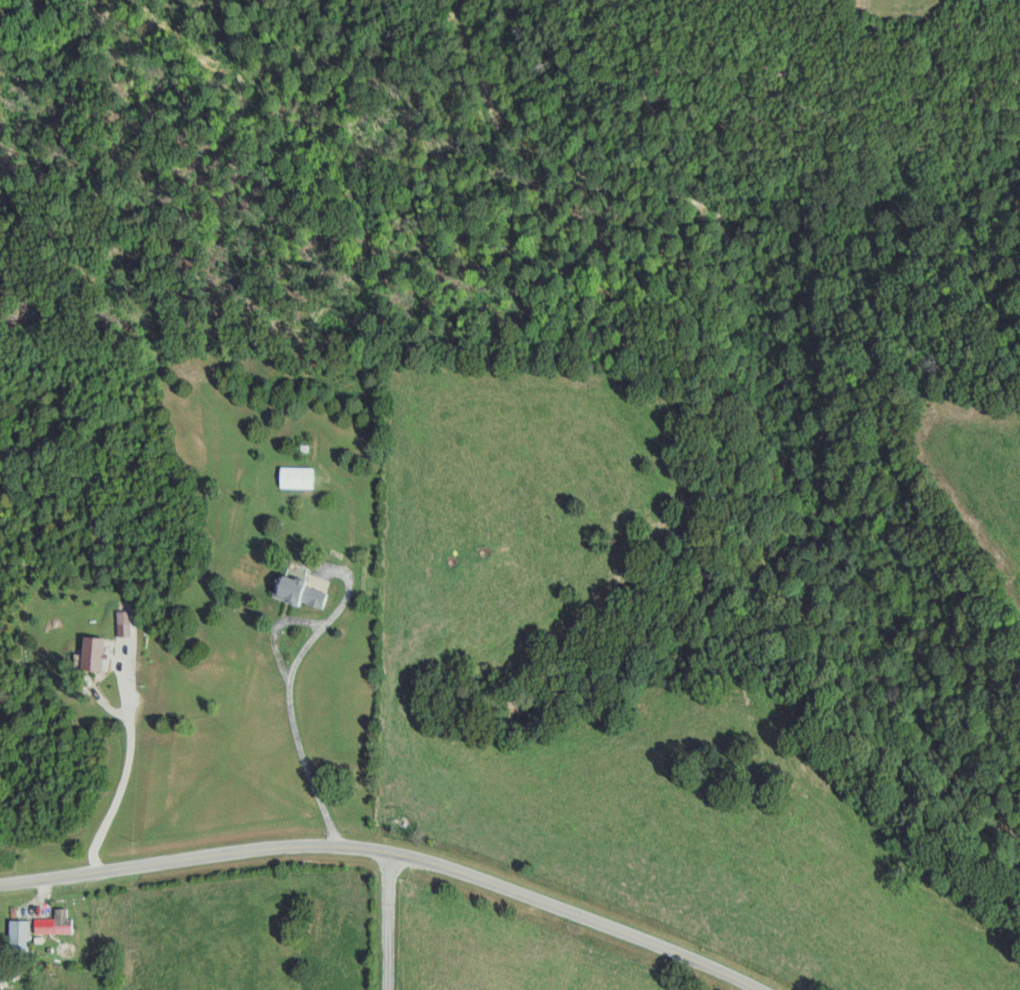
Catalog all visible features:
building: (299, 477)
building: (301, 589)
building: (127, 623)
road: (313, 653)
building: (96, 654)
road: (123, 772)
road: (401, 849)
road: (42, 892)
road: (384, 917)
building: (58, 924)
building: (22, 935)

